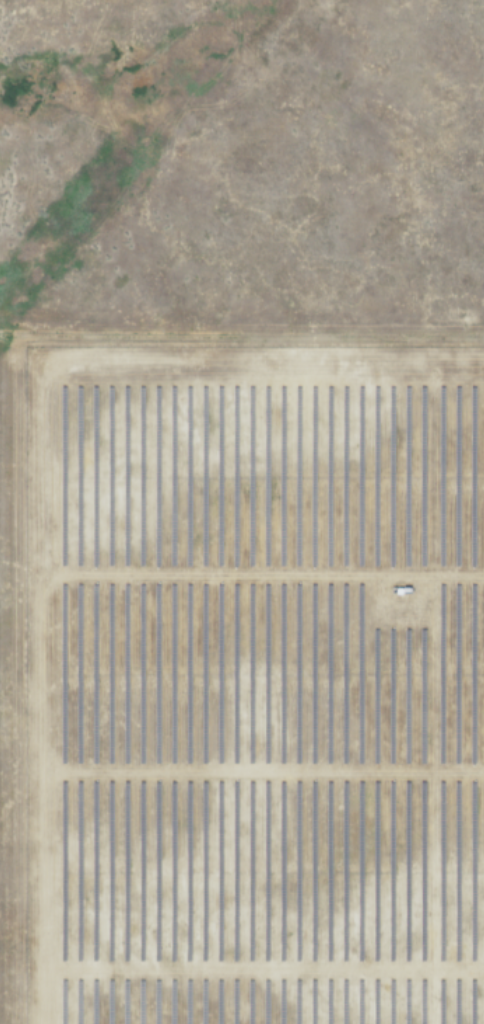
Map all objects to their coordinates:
solar farm: (255, 687)

